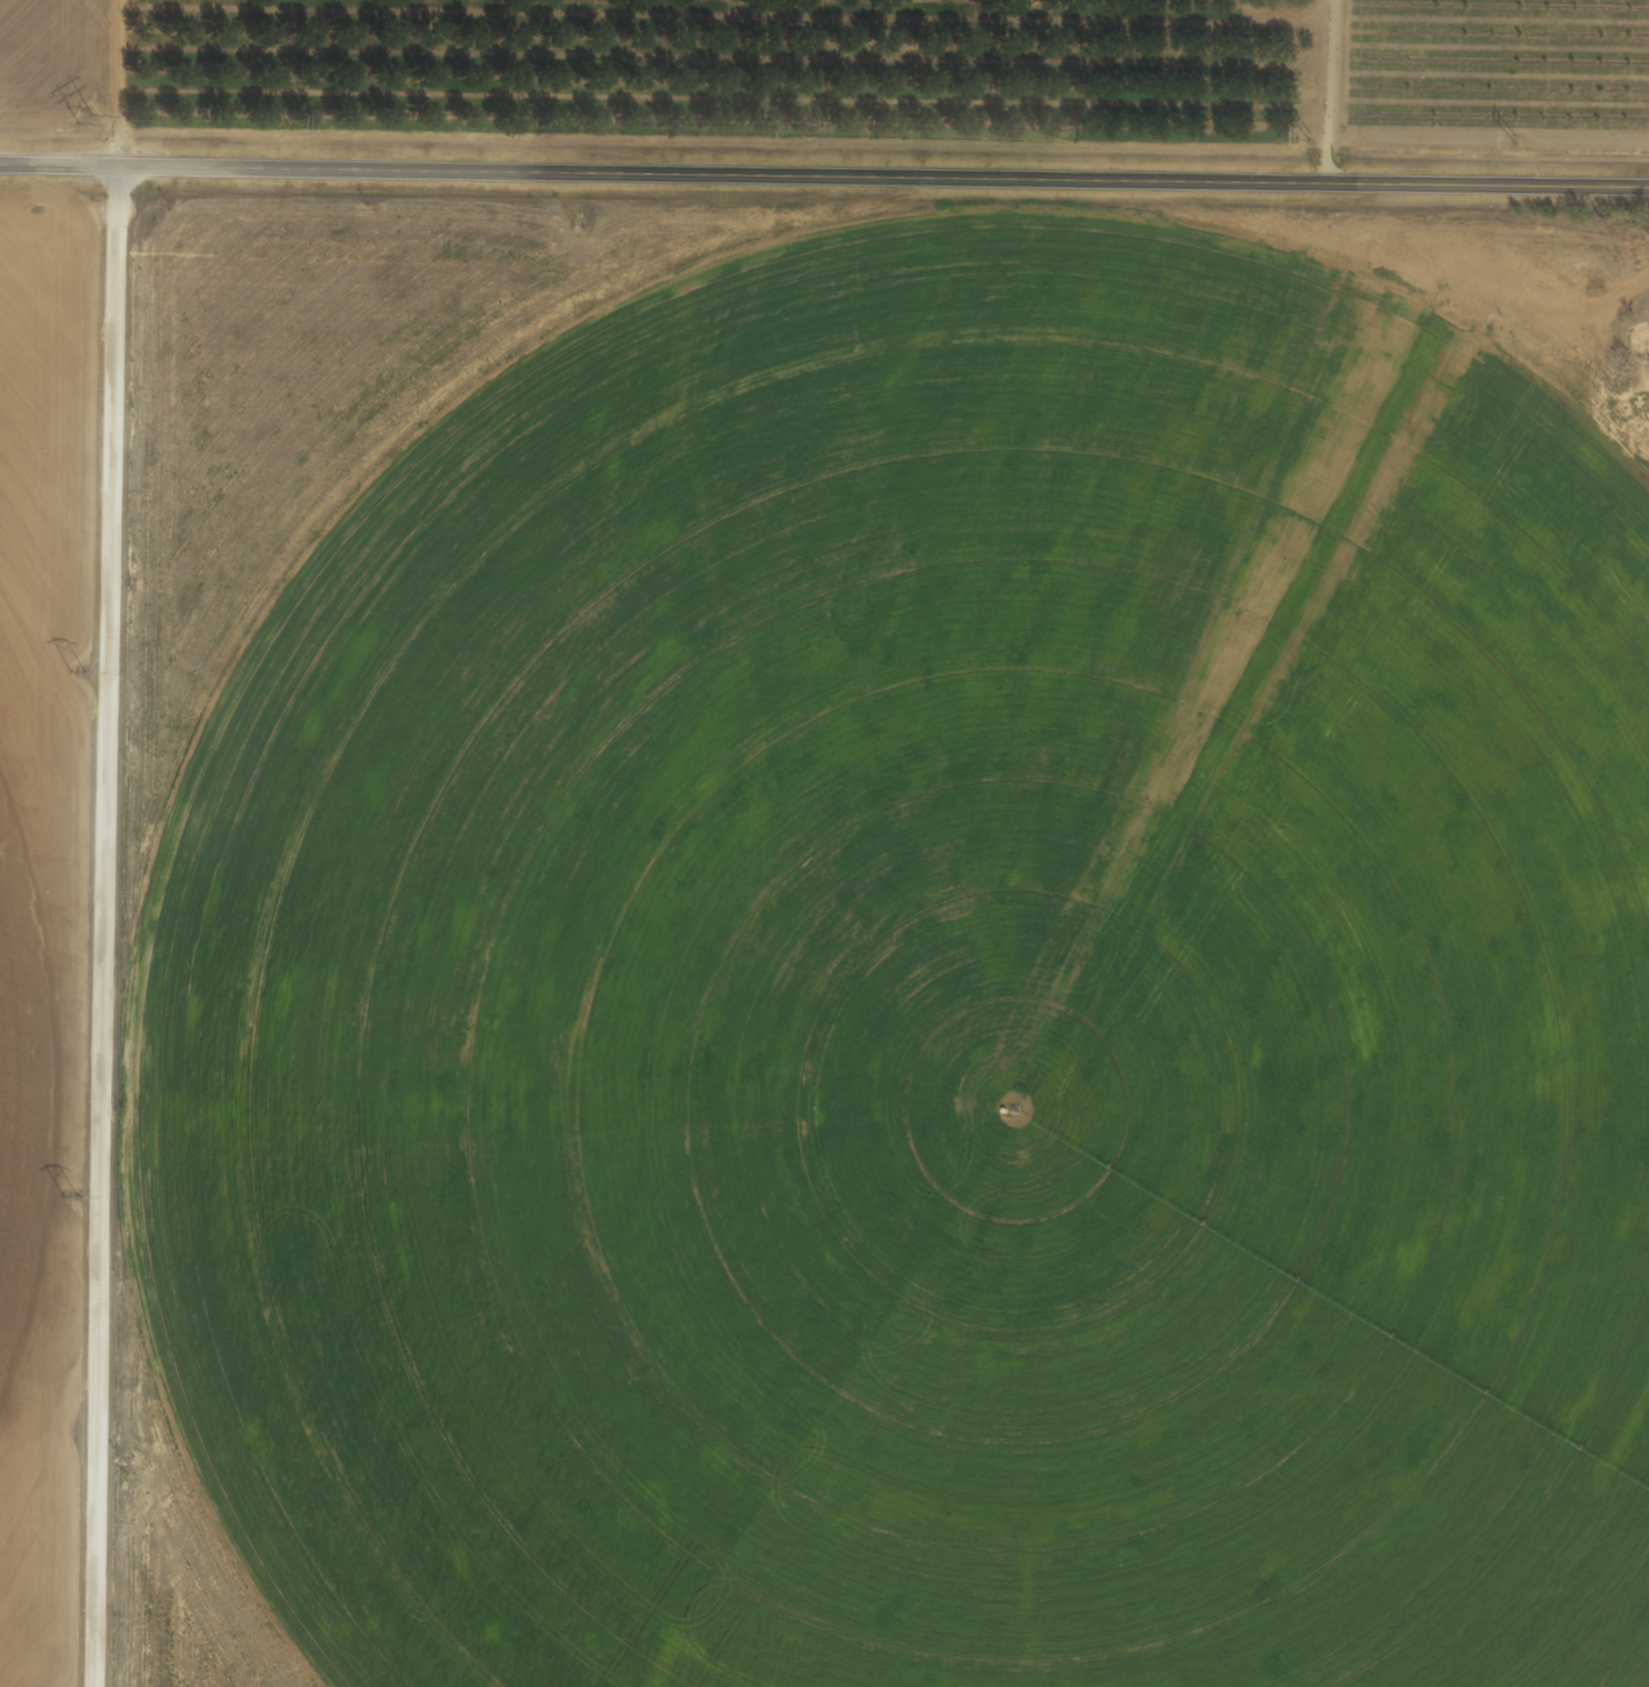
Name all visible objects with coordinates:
road: (1642, 32)
road: (1337, 93)
road: (41, 100)
power tower: (83, 121)
road: (825, 180)
power tower: (76, 672)
road: (110, 928)
power tower: (66, 1198)

